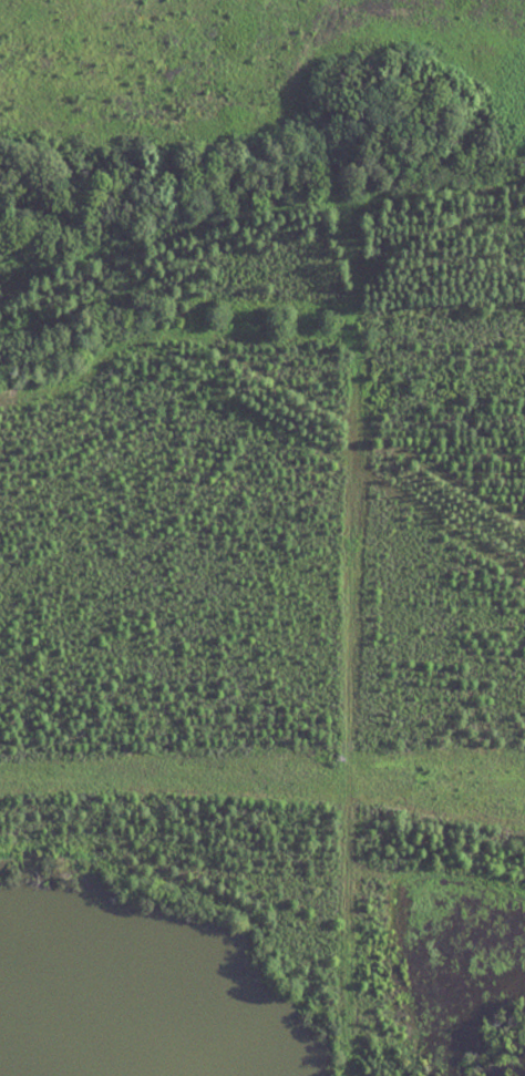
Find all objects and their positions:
road: (161, 145)
road: (348, 534)

